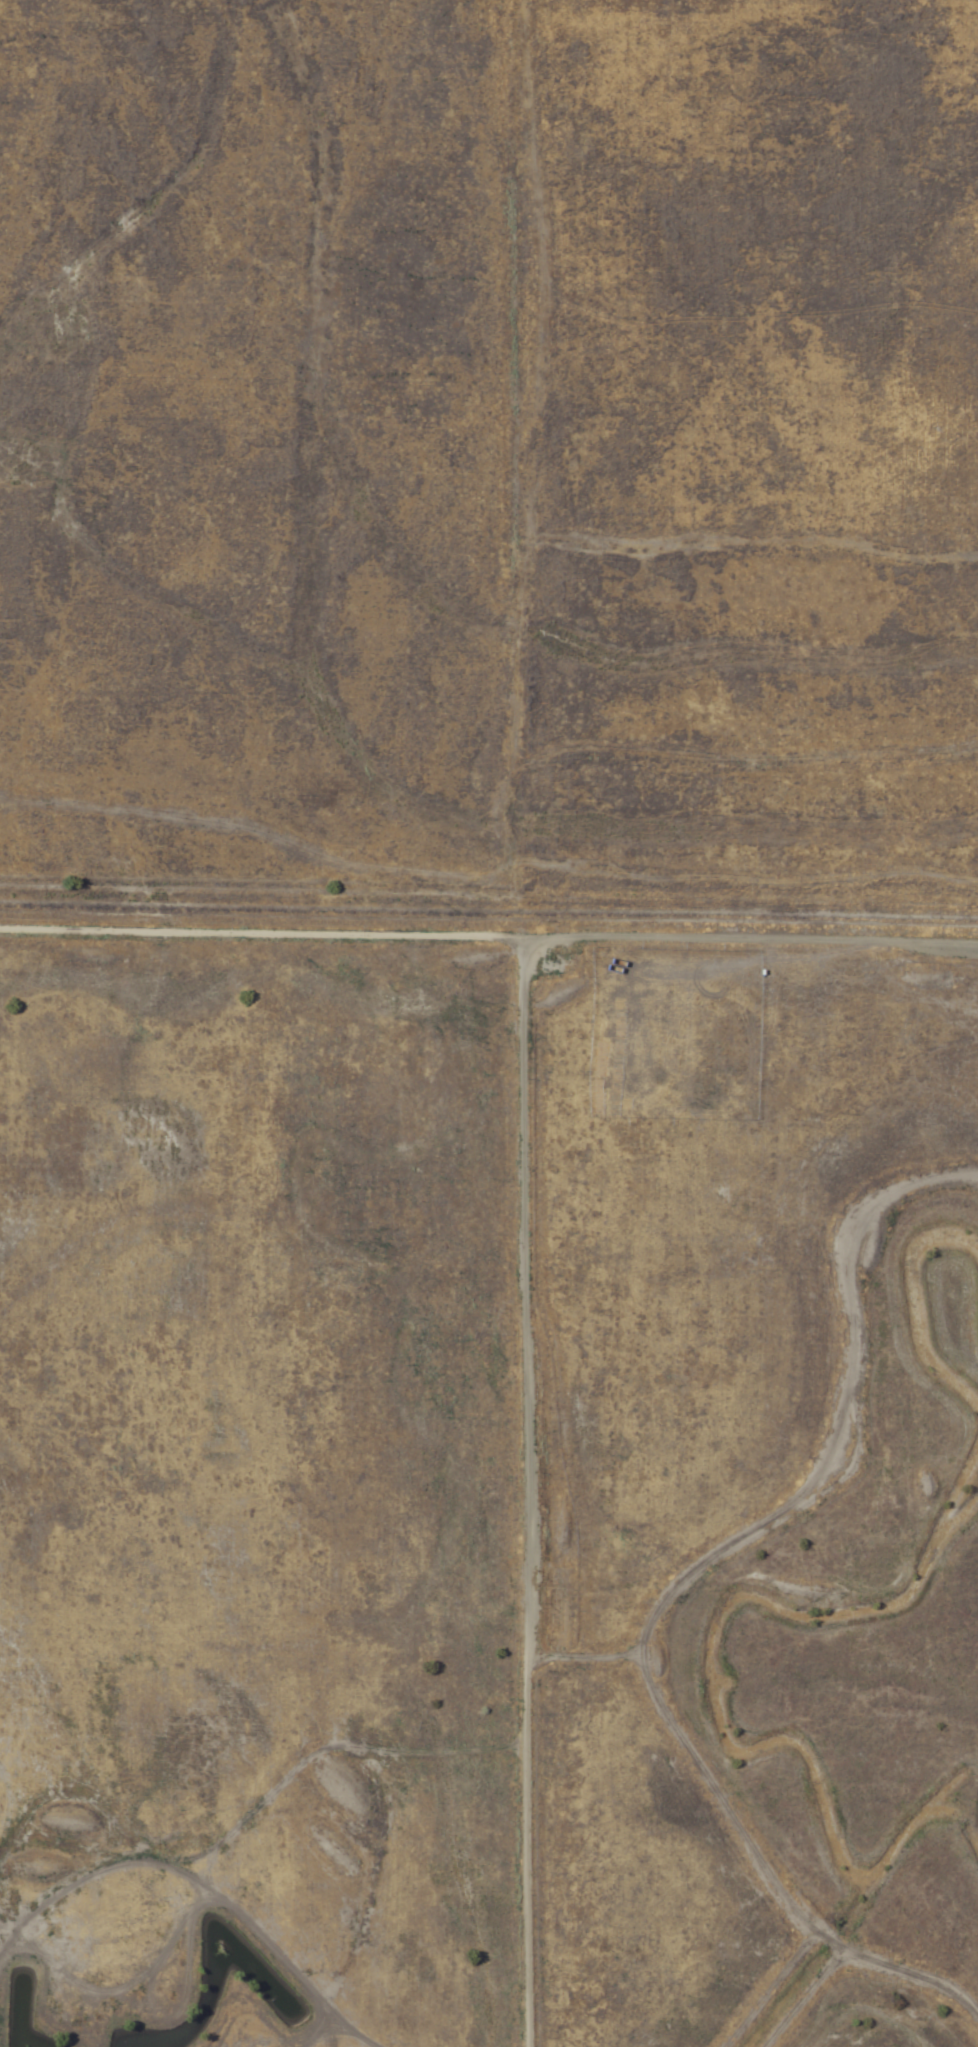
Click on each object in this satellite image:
crop: (489, 1023)

